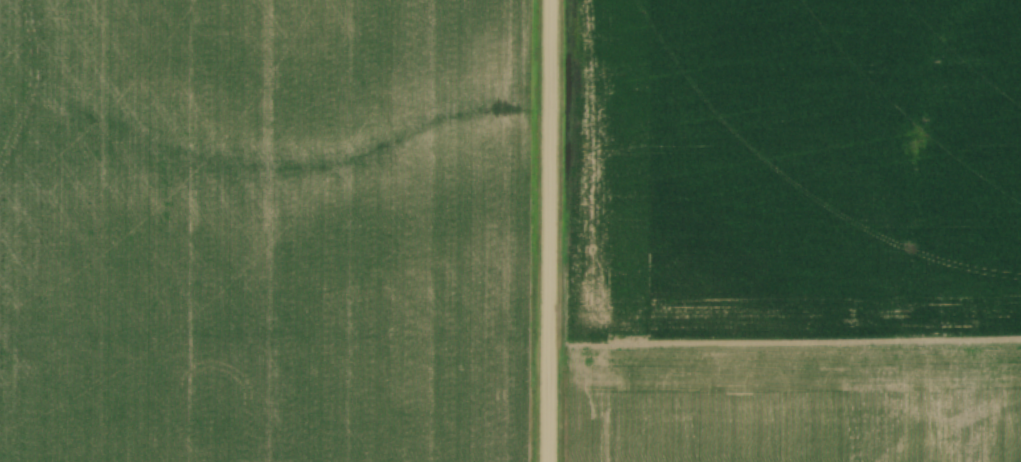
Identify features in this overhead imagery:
road: (550, 230)

